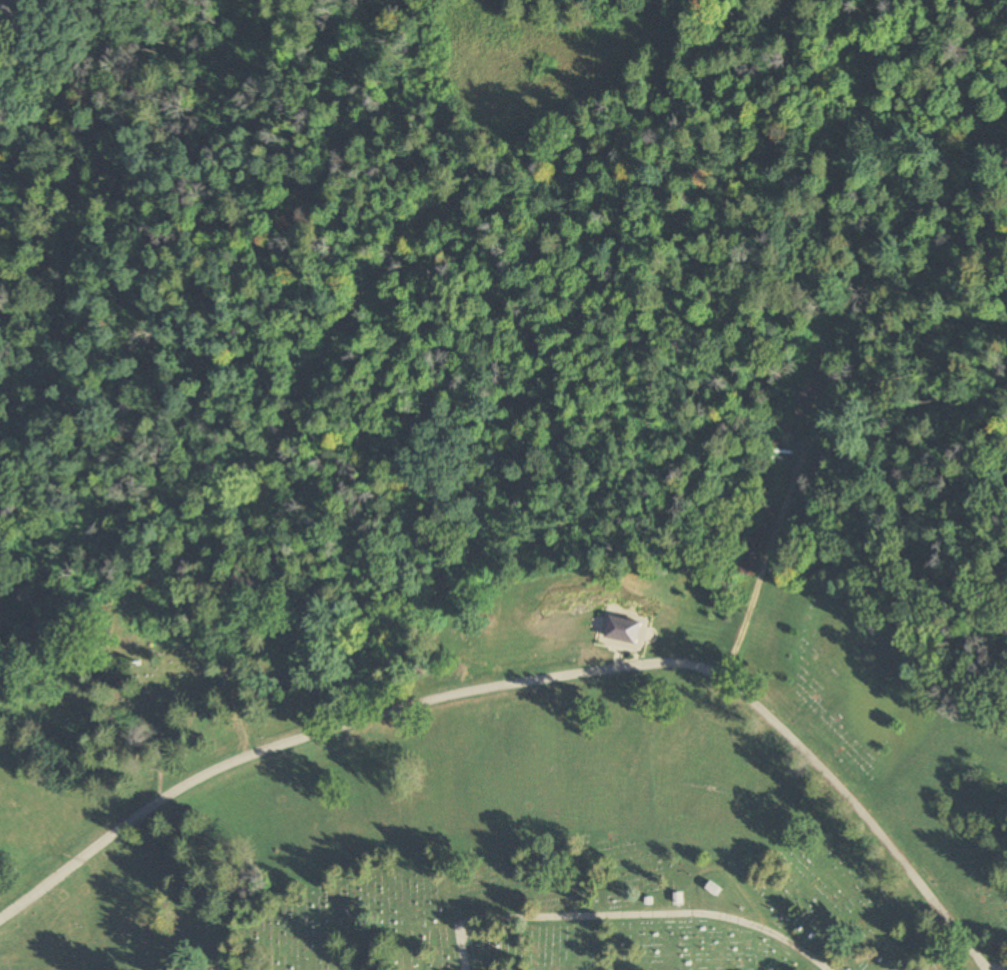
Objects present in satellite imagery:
road: (759, 584)
building: (626, 632)
road: (530, 679)
park: (520, 776)
road: (624, 915)

